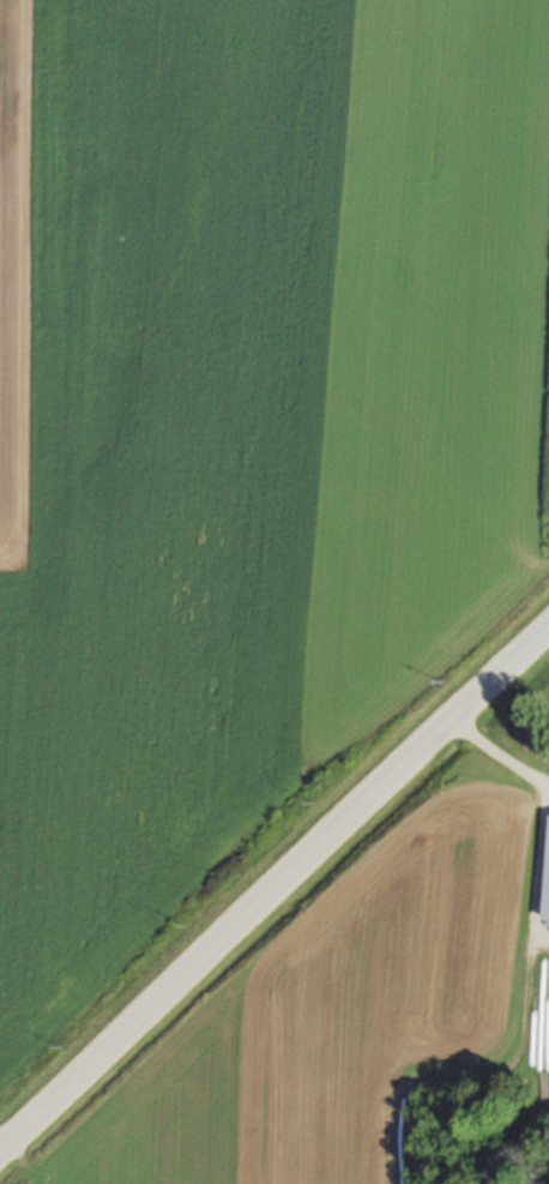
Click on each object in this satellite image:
road: (499, 753)
building: (545, 882)
road: (274, 890)

